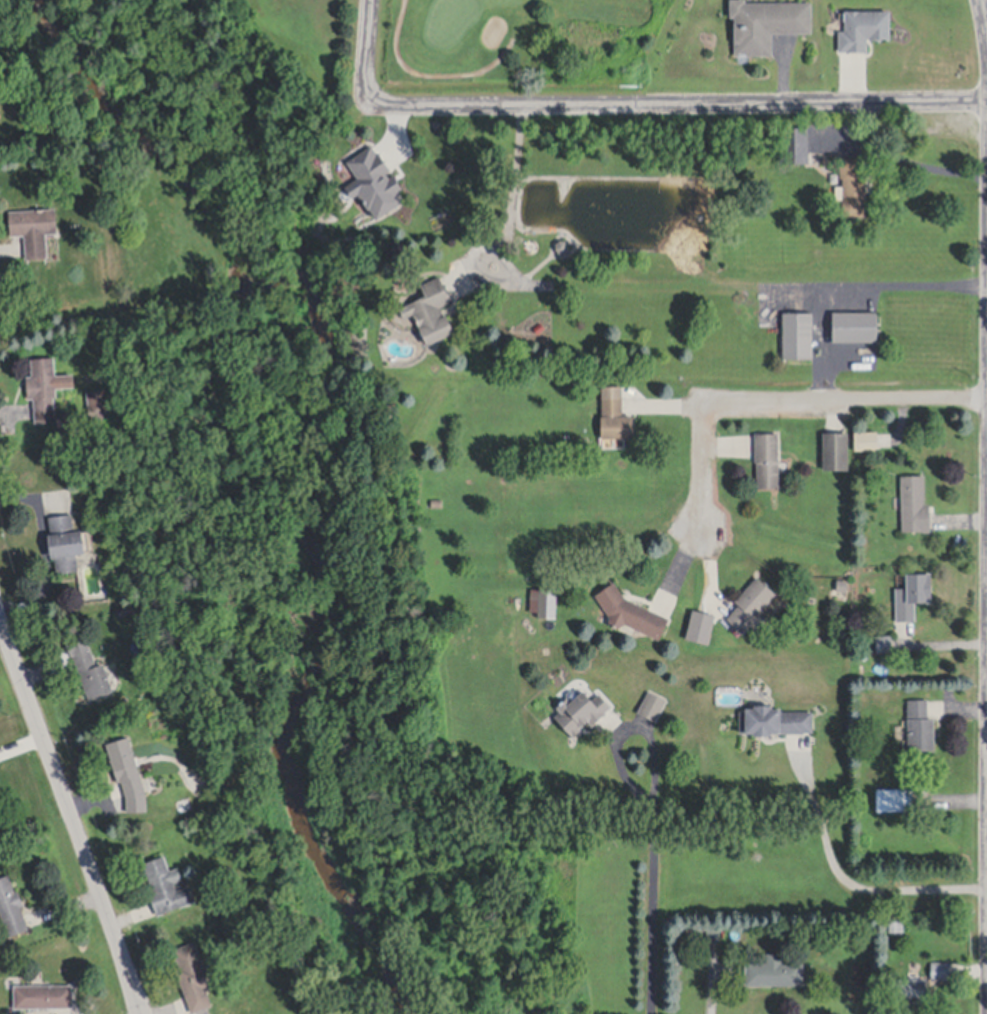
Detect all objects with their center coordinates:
road: (984, 11)
building: (766, 20)
building: (862, 23)
park: (475, 37)
road: (626, 108)
building: (65, 126)
building: (795, 140)
road: (923, 167)
building: (374, 178)
building: (852, 184)
road: (510, 211)
building: (33, 222)
road: (905, 286)
building: (430, 307)
building: (854, 322)
building: (797, 331)
road: (823, 345)
building: (42, 382)
building: (97, 396)
road: (785, 403)
building: (614, 411)
building: (865, 437)
building: (835, 447)
building: (766, 456)
building: (913, 501)
building: (436, 502)
building: (65, 535)
building: (842, 583)
building: (912, 592)
building: (750, 602)
building: (123, 604)
building: (630, 609)
building: (883, 642)
building: (91, 668)
building: (651, 704)
building: (580, 710)
building: (773, 718)
building: (919, 723)
road: (636, 724)
building: (897, 731)
building: (125, 762)
building: (893, 798)
road: (71, 816)
road: (859, 876)
building: (166, 882)
building: (11, 905)
road: (662, 907)
building: (896, 924)
building: (712, 935)
building: (693, 938)
building: (940, 970)
building: (773, 971)
building: (193, 973)
building: (912, 988)
building: (43, 994)

